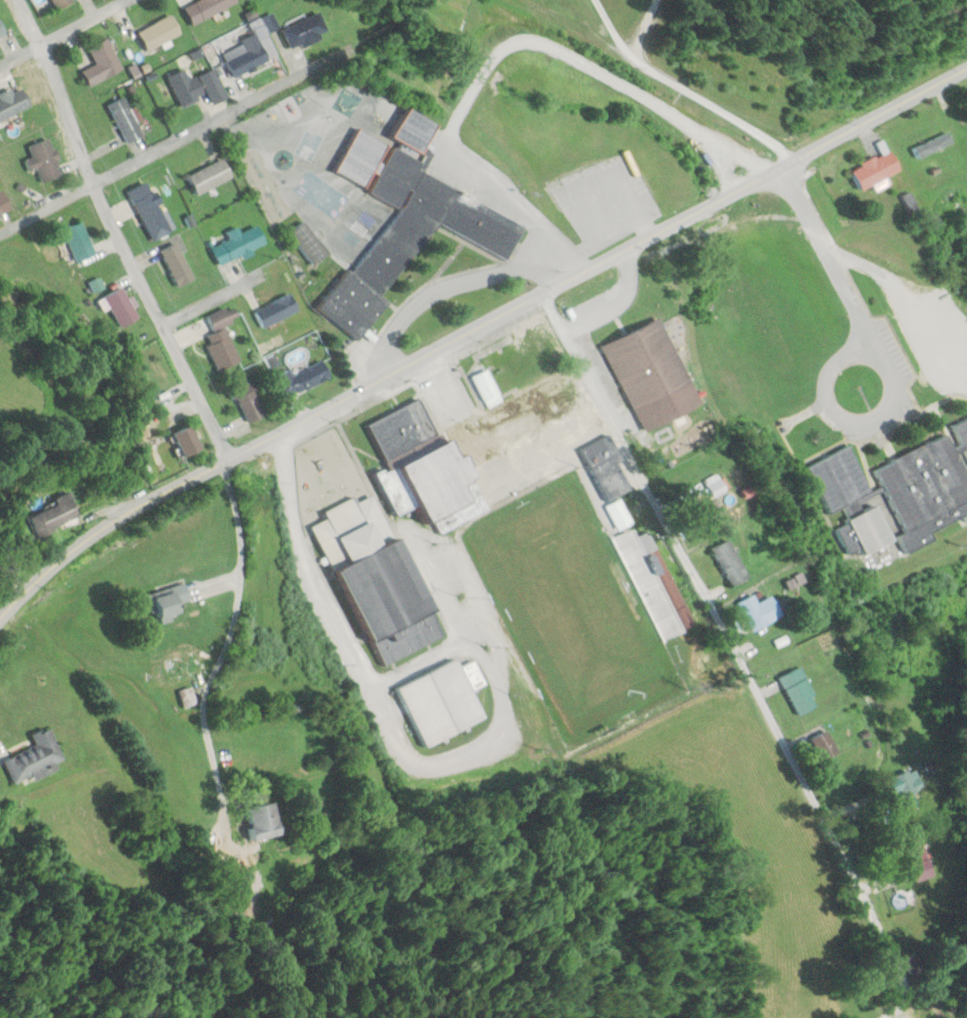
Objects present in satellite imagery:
building: (62, 3)
building: (205, 9)
building: (2, 30)
building: (304, 31)
building: (158, 32)
road: (82, 46)
building: (247, 60)
building: (101, 63)
building: (196, 88)
building: (13, 105)
building: (125, 120)
building: (413, 131)
park: (313, 132)
road: (165, 143)
building: (932, 146)
building: (43, 160)
park: (251, 167)
building: (876, 172)
building: (210, 177)
road: (754, 184)
building: (4, 204)
park: (308, 204)
park: (271, 207)
building: (149, 211)
building: (405, 228)
road: (115, 231)
building: (78, 241)
building: (239, 245)
building: (312, 250)
building: (177, 264)
road: (212, 298)
building: (119, 307)
building: (276, 310)
building: (222, 338)
building: (643, 363)
building: (302, 378)
building: (251, 400)
building: (402, 427)
building: (188, 440)
road: (259, 441)
building: (479, 454)
building: (607, 467)
building: (714, 485)
building: (895, 494)
building: (618, 514)
building: (55, 515)
building: (730, 562)
building: (379, 580)
building: (654, 584)
building: (172, 600)
park: (571, 608)
building: (759, 611)
road: (231, 634)
road: (733, 657)
building: (187, 666)
building: (798, 691)
building: (443, 700)
building: (824, 745)
building: (35, 757)
building: (903, 784)
building: (262, 821)
building: (917, 863)
building: (909, 964)

